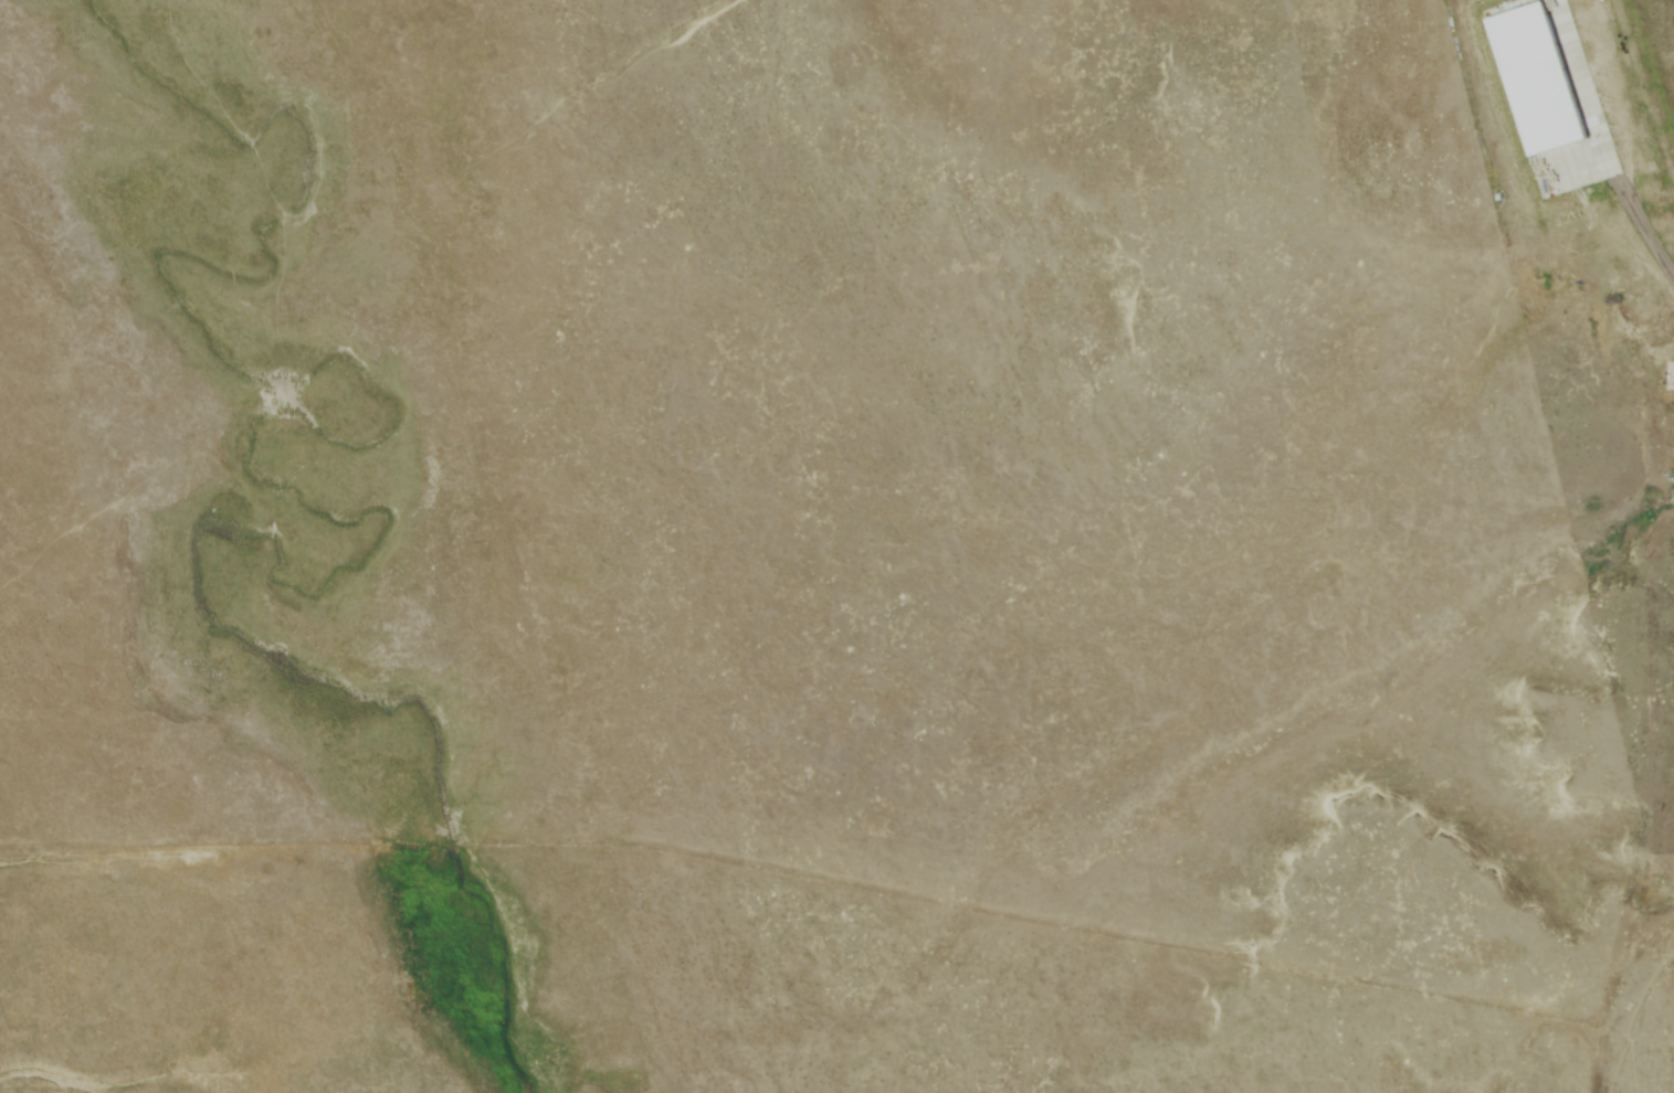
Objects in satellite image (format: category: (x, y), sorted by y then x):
airport runway: (1668, 14)
airport hangar: (1539, 76)
building: (1539, 76)

